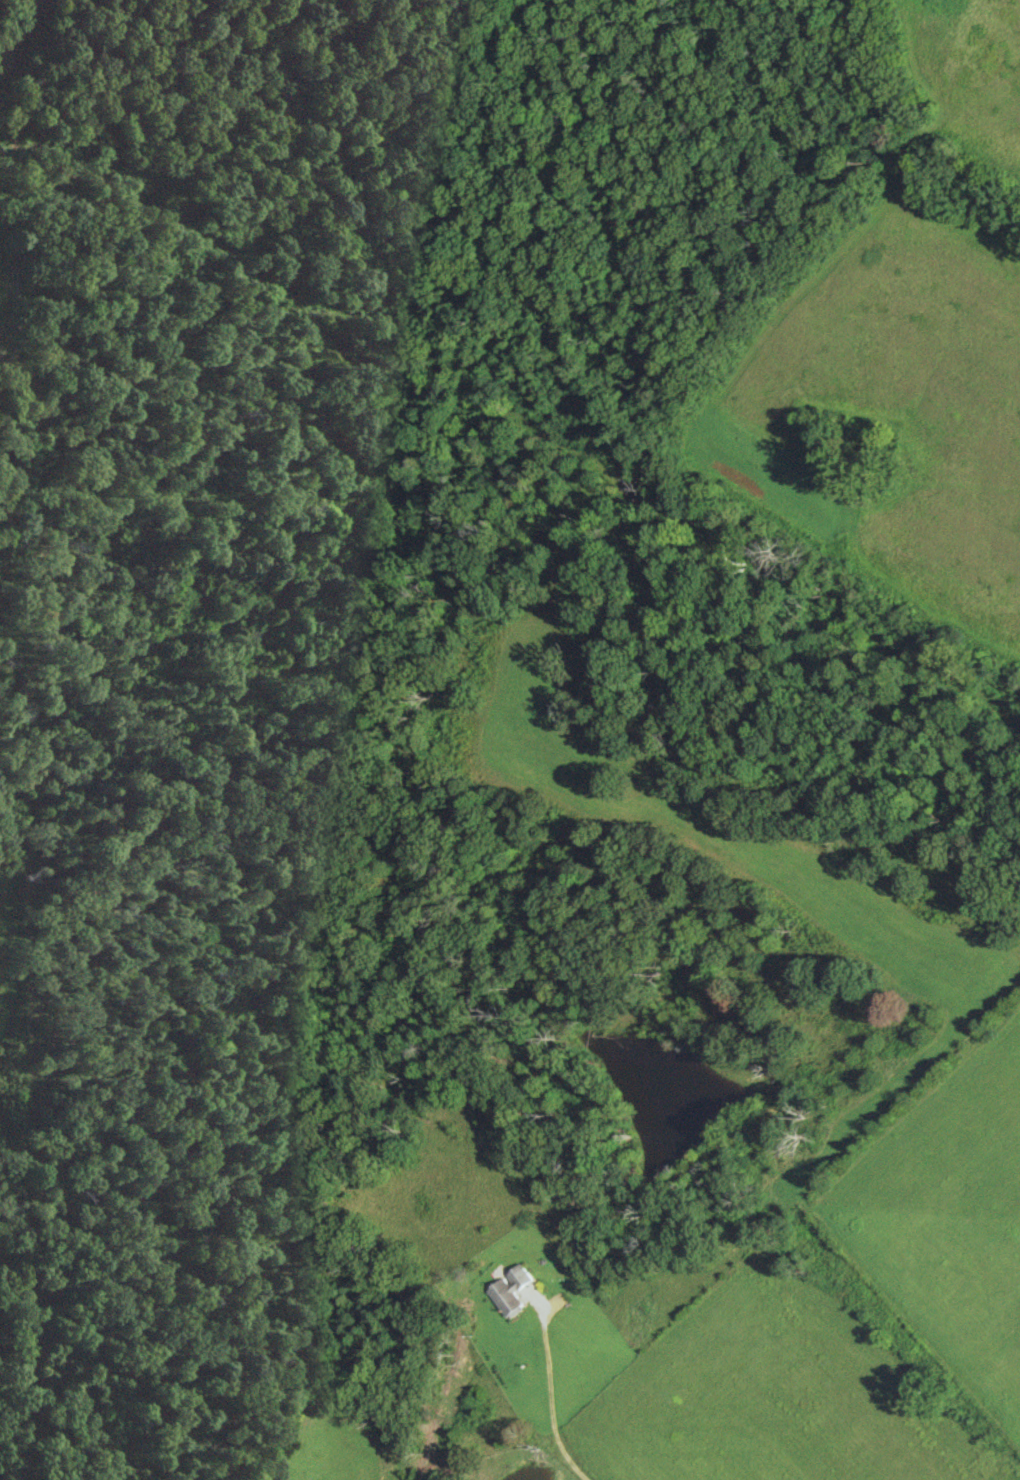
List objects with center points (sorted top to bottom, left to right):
building: (513, 1292)
road: (555, 1394)

